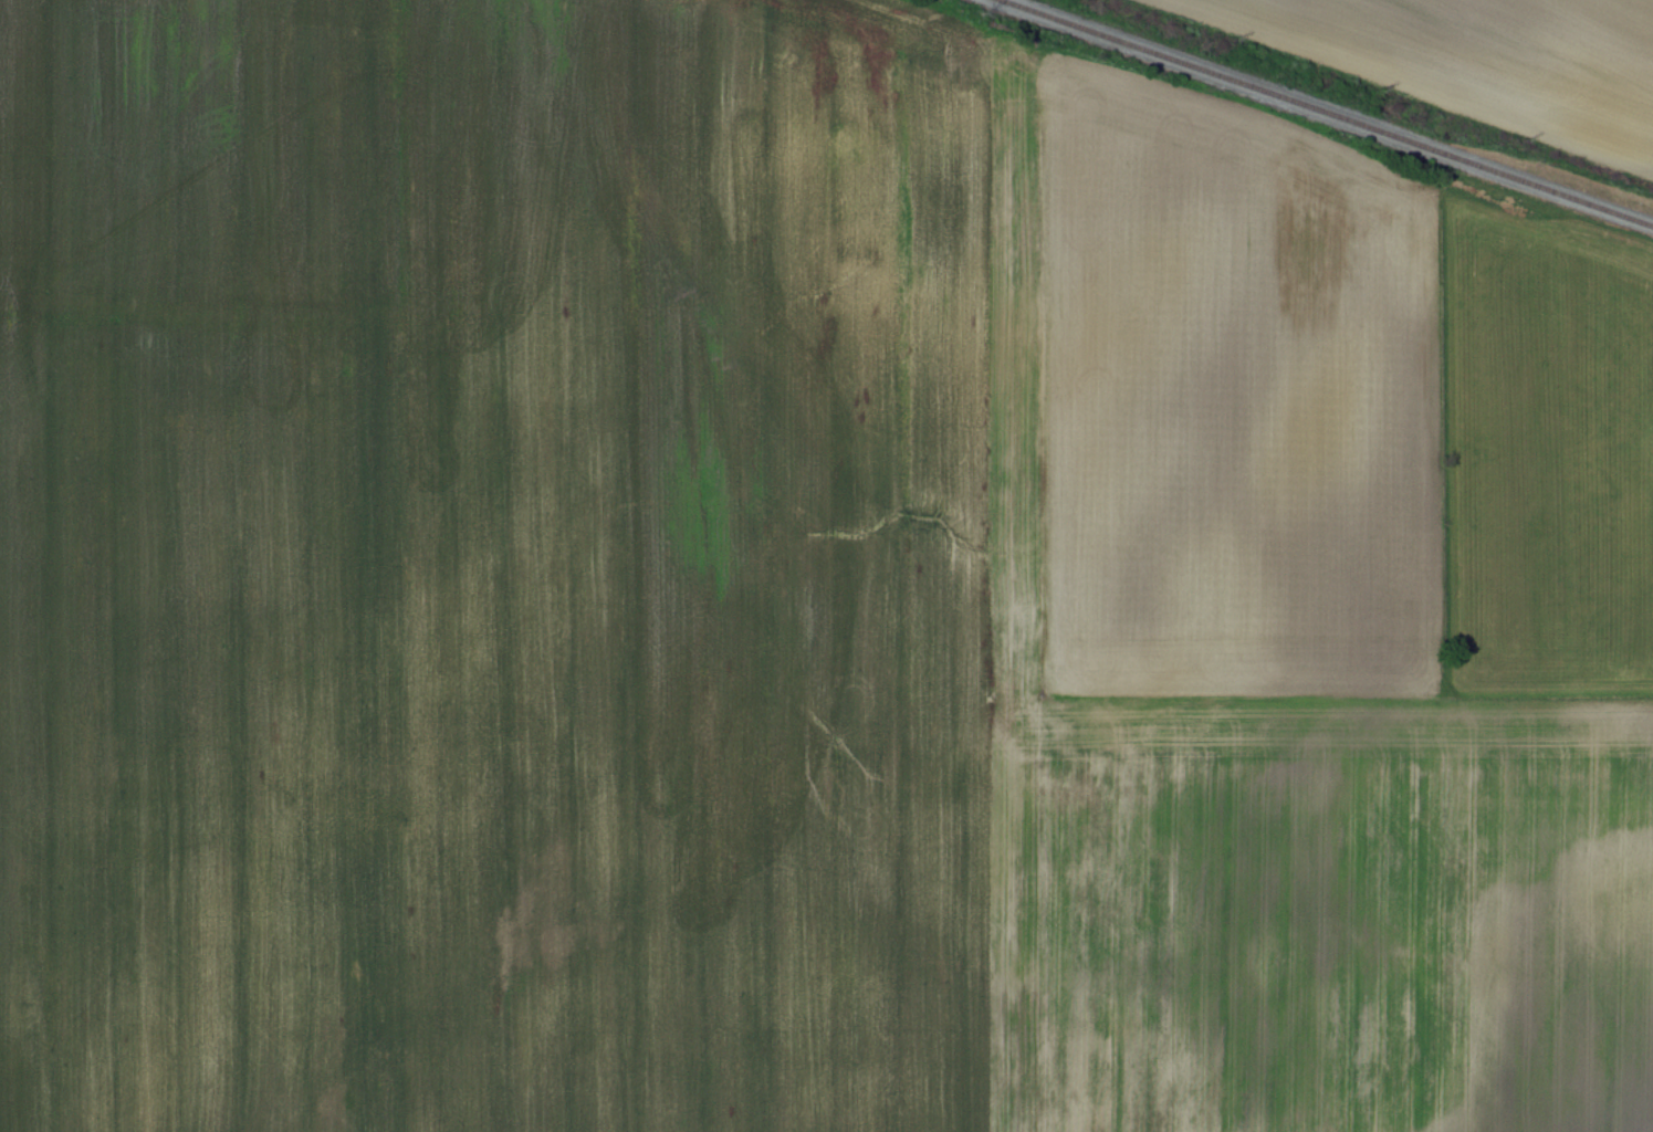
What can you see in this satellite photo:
railway: (1328, 111)

